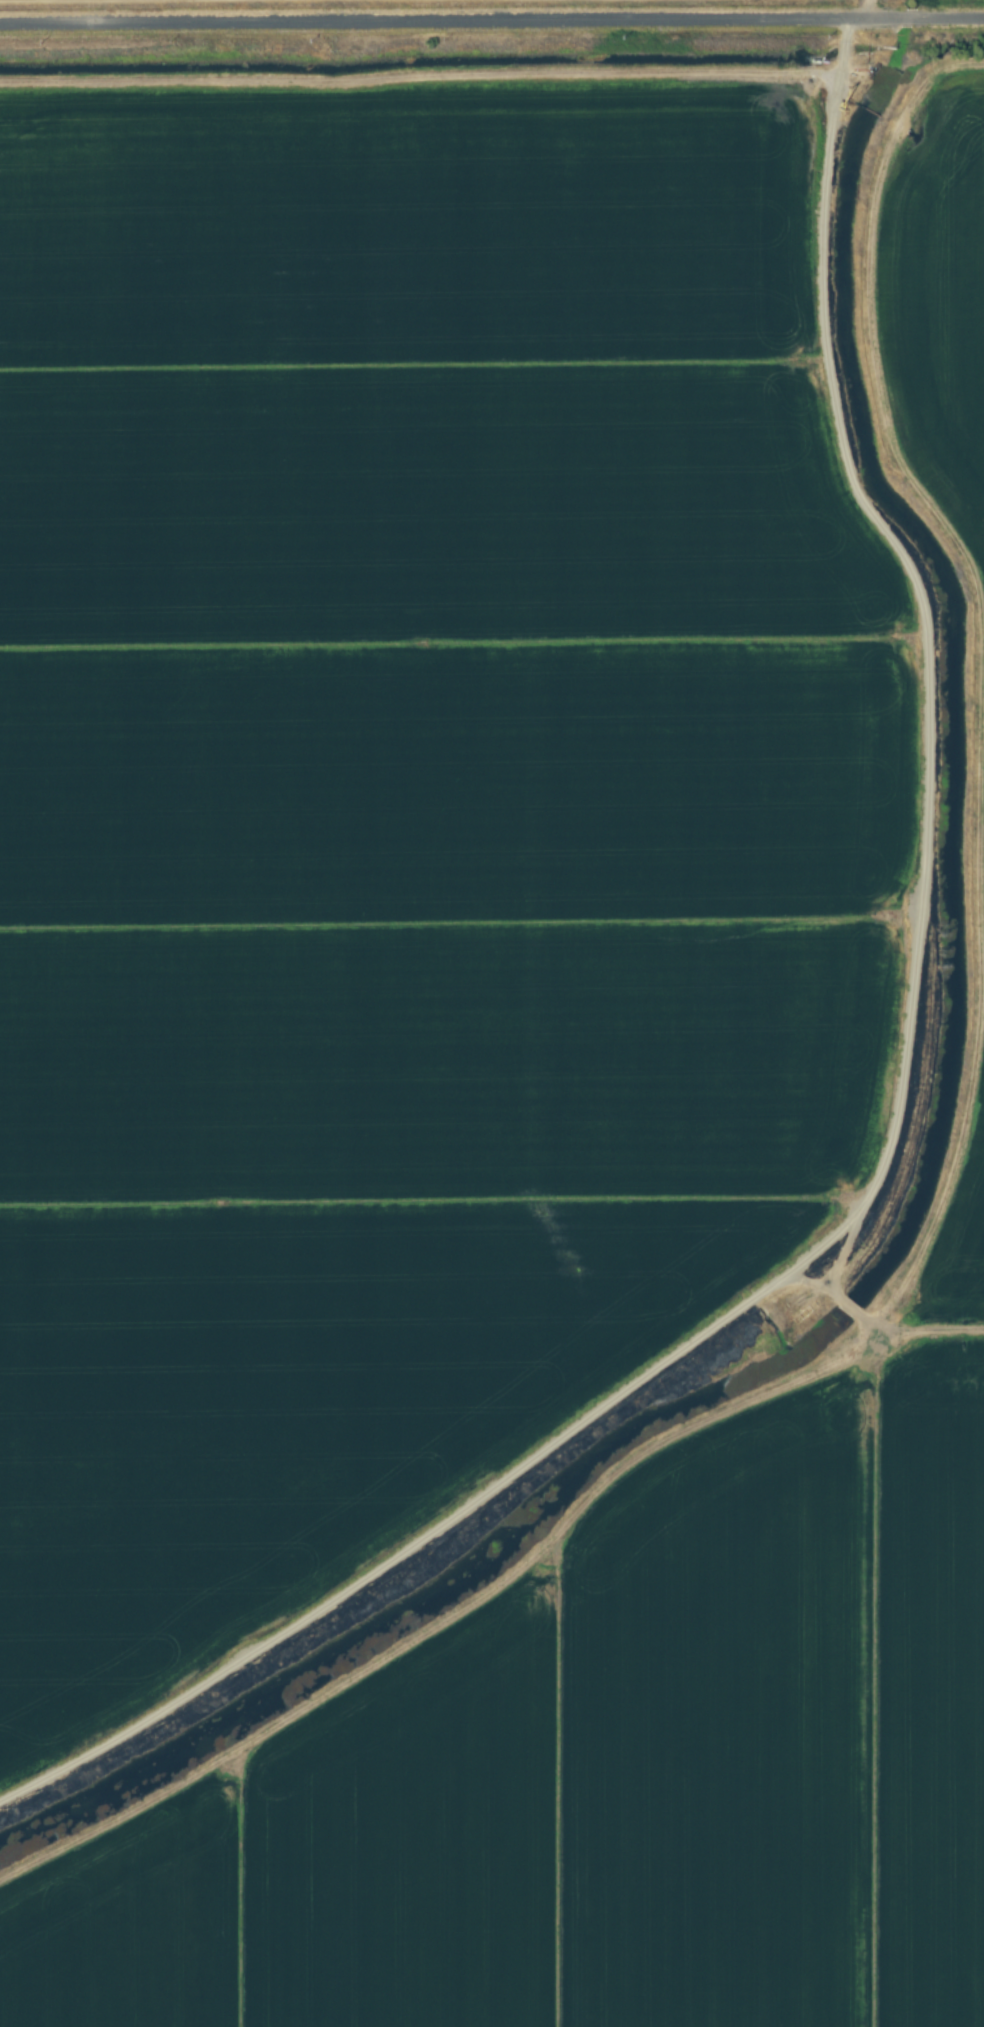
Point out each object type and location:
road: (492, 27)

